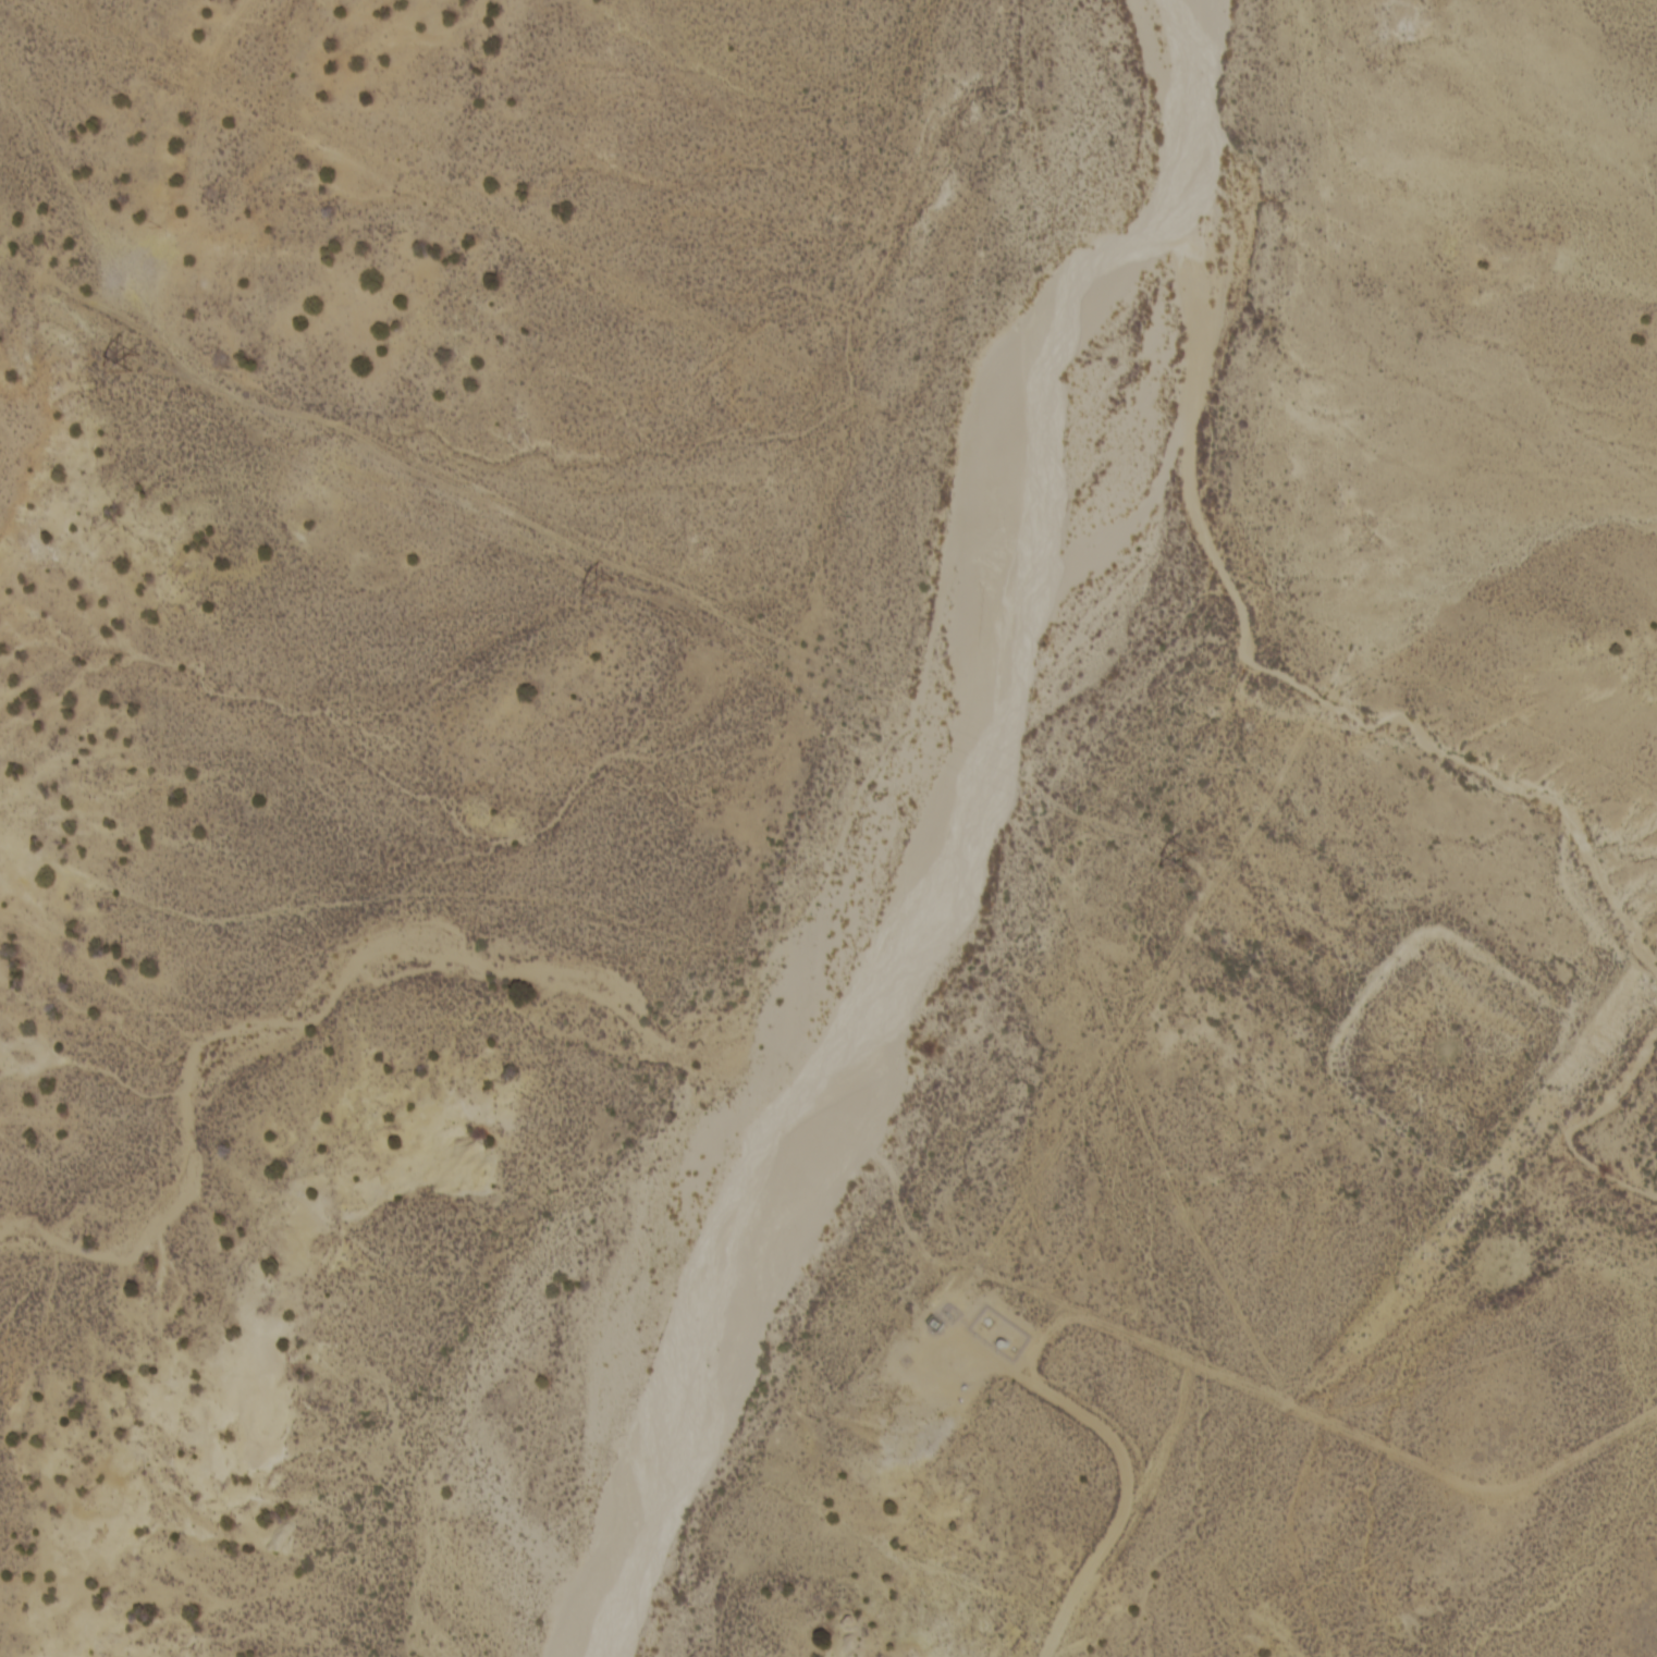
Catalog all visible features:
power tower: (133, 364)
power tower: (605, 588)
river: (906, 833)
power tower: (1188, 866)

